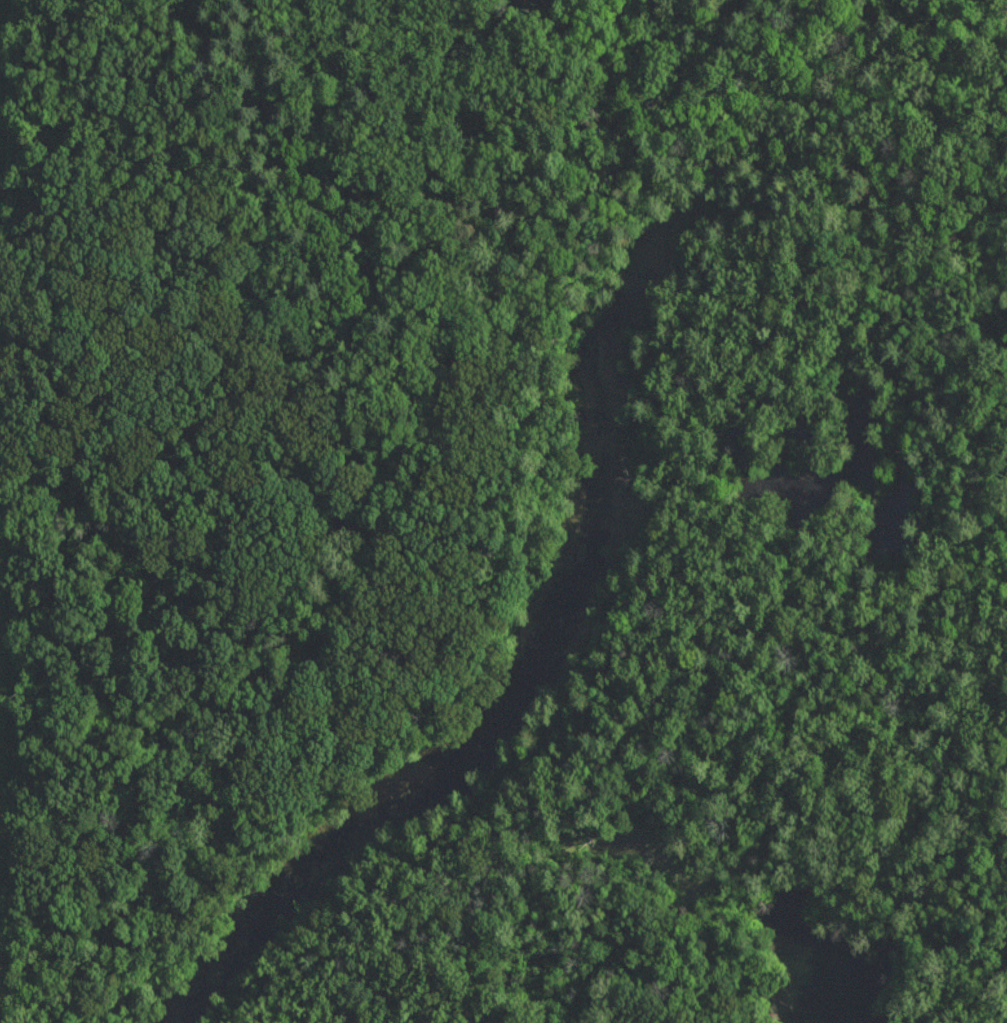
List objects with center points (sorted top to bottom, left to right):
road: (780, 439)

